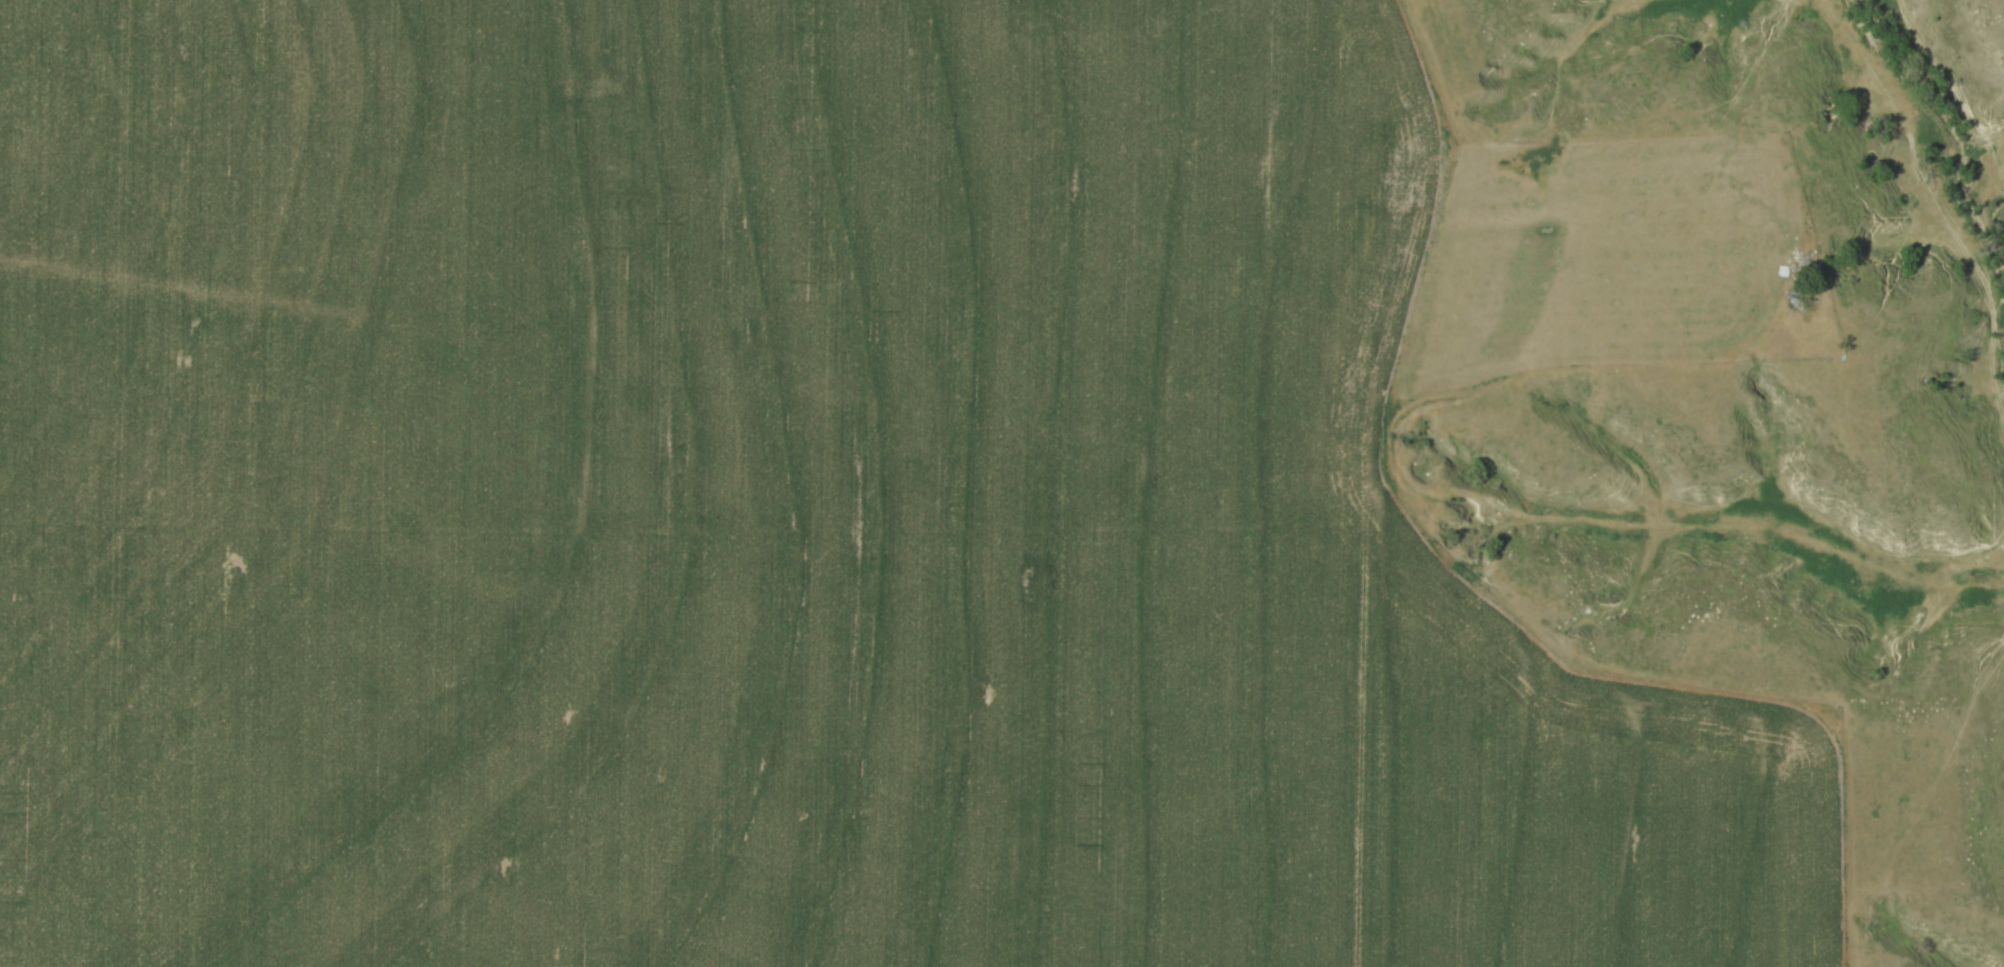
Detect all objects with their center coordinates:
crop: (787, 512)

